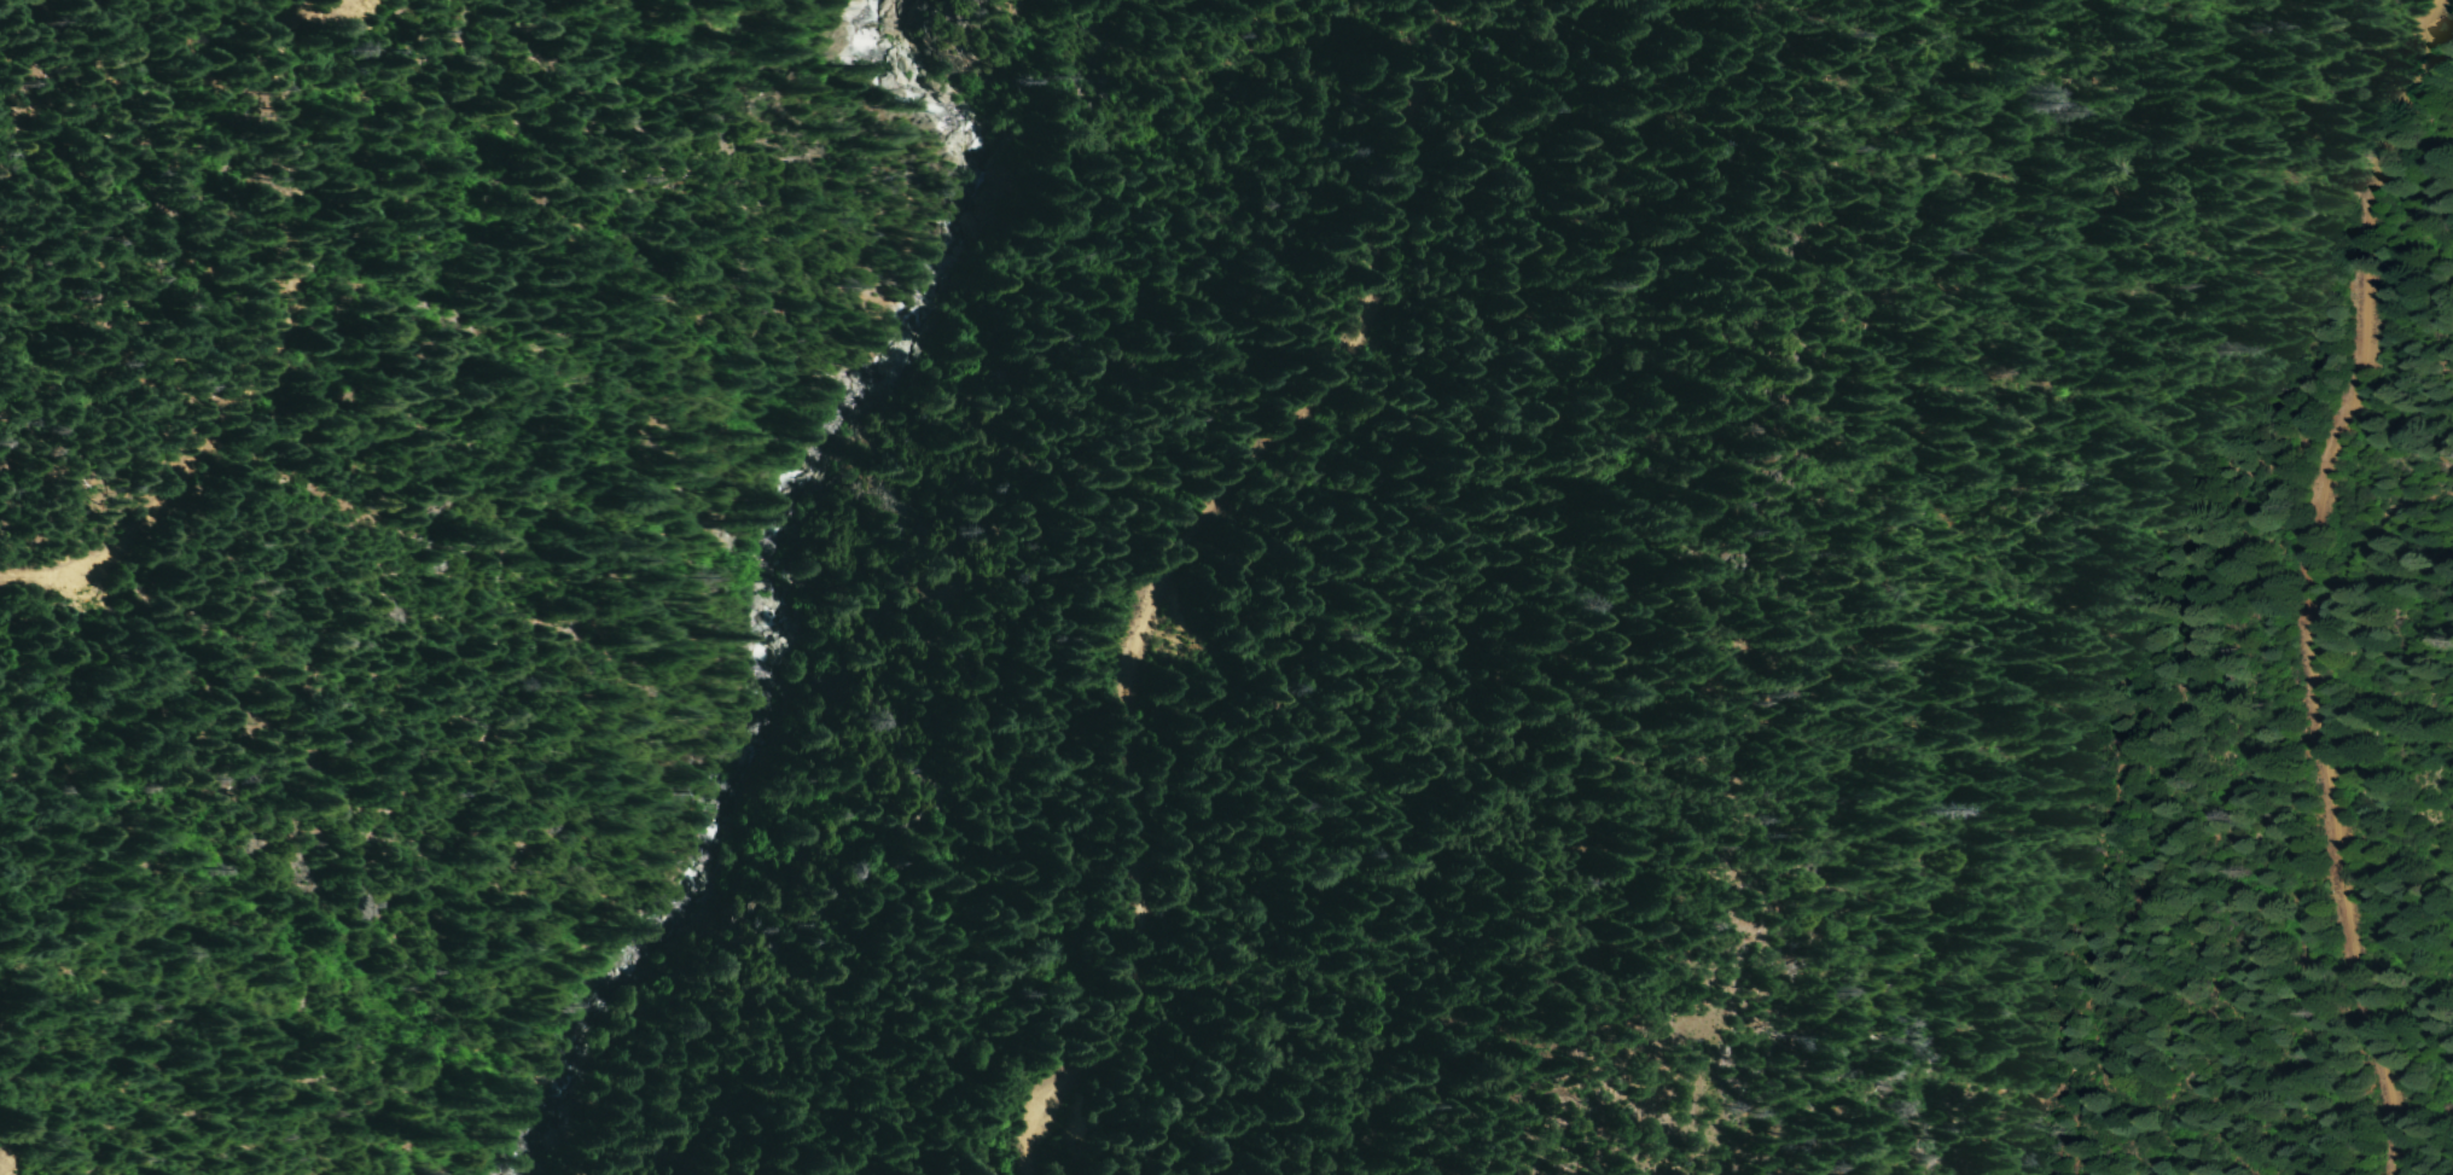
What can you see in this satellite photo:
road: (2290, 577)

